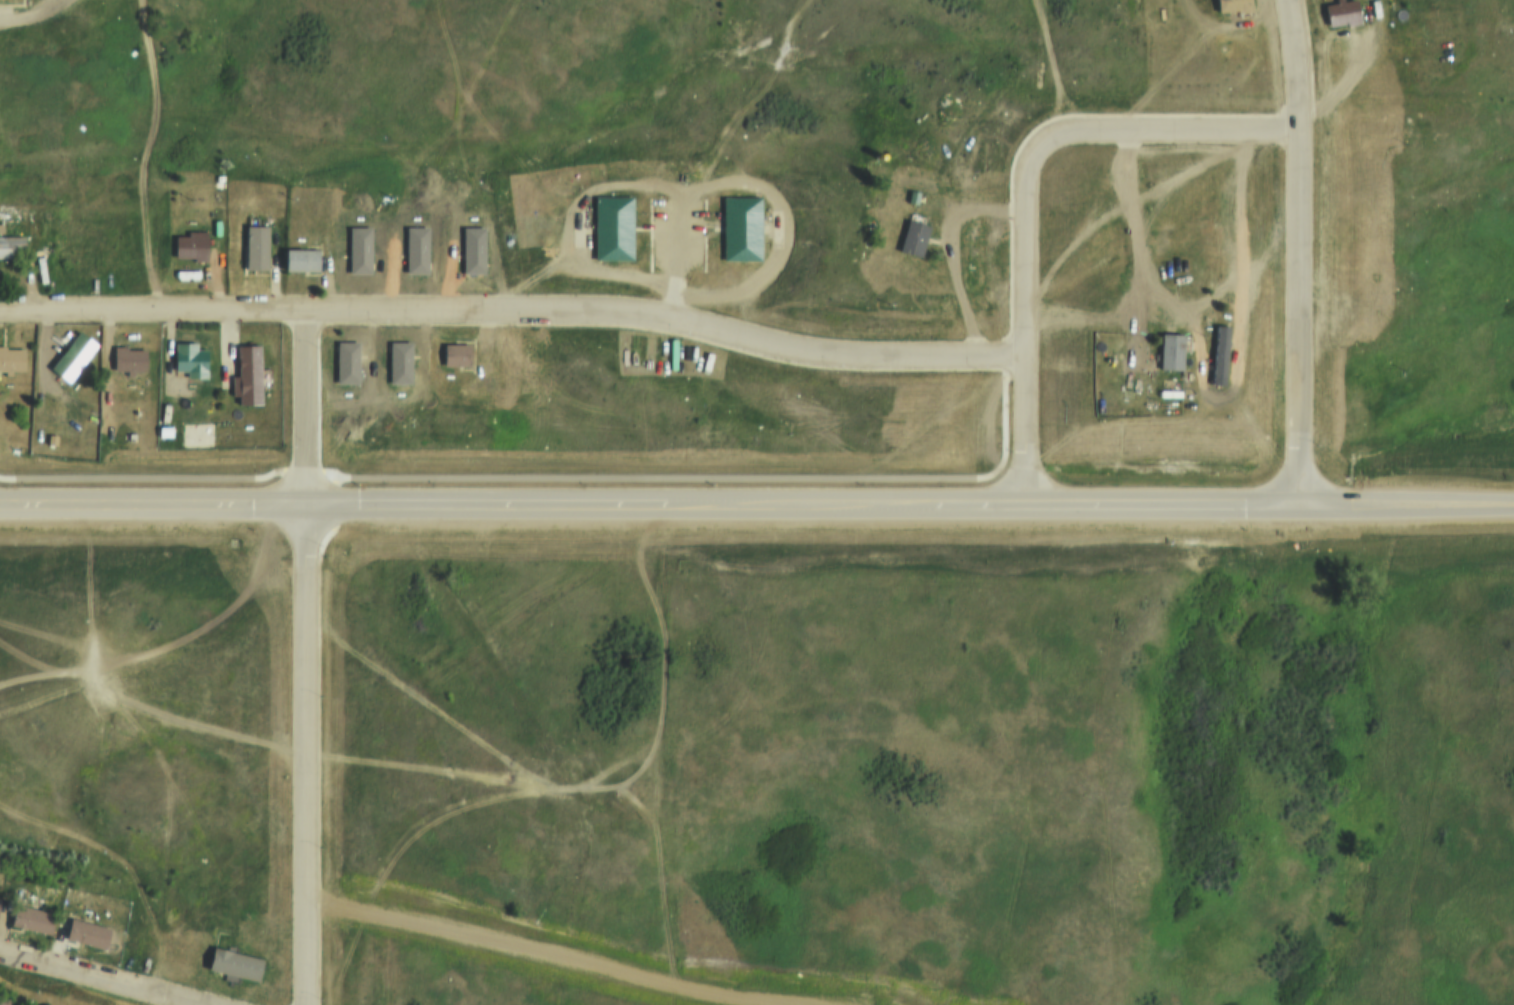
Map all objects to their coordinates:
building: (4, 0)
building: (1228, 6)
building: (1336, 16)
road: (43, 23)
road: (1237, 32)
road: (1350, 73)
road: (999, 128)
road: (1028, 195)
building: (742, 223)
building: (611, 226)
building: (912, 236)
building: (189, 242)
building: (10, 245)
building: (254, 246)
road: (1300, 252)
building: (969, 255)
building: (468, 256)
building: (403, 257)
building: (352, 258)
building: (299, 259)
road: (516, 311)
road: (1129, 338)
building: (454, 350)
building: (402, 351)
building: (348, 352)
building: (71, 354)
building: (126, 355)
building: (188, 355)
building: (10, 356)
building: (1166, 358)
building: (1213, 362)
building: (247, 372)
building: (164, 426)
building: (52, 432)
road: (1270, 505)
road: (513, 506)
road: (312, 658)
road: (192, 660)
building: (28, 919)
building: (84, 934)
building: (231, 963)
road: (93, 978)
building: (3, 999)
building: (41, 1003)

